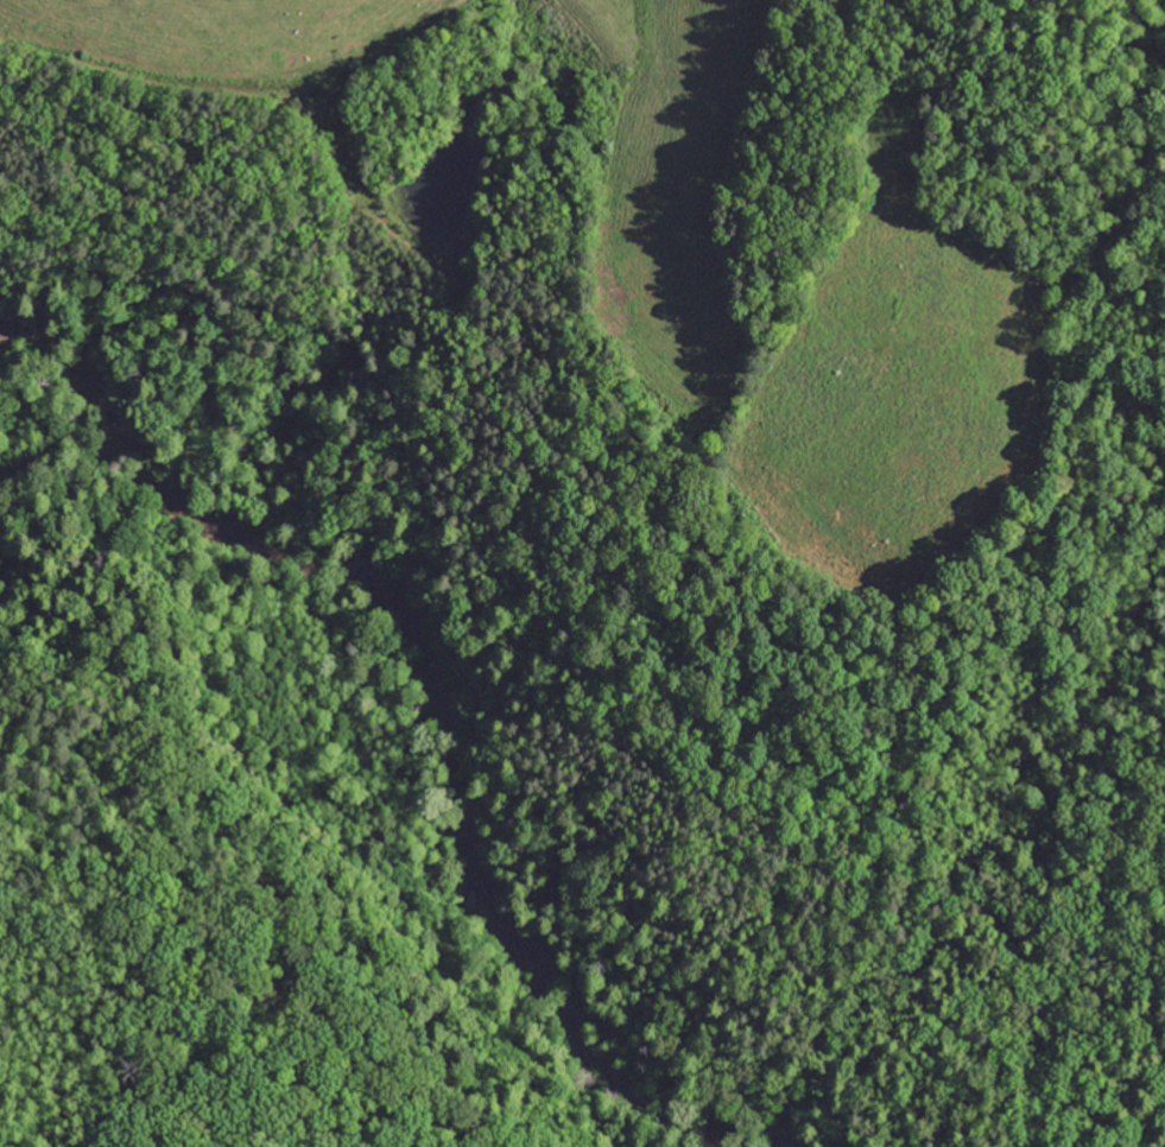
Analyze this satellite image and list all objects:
park: (1101, 1111)

